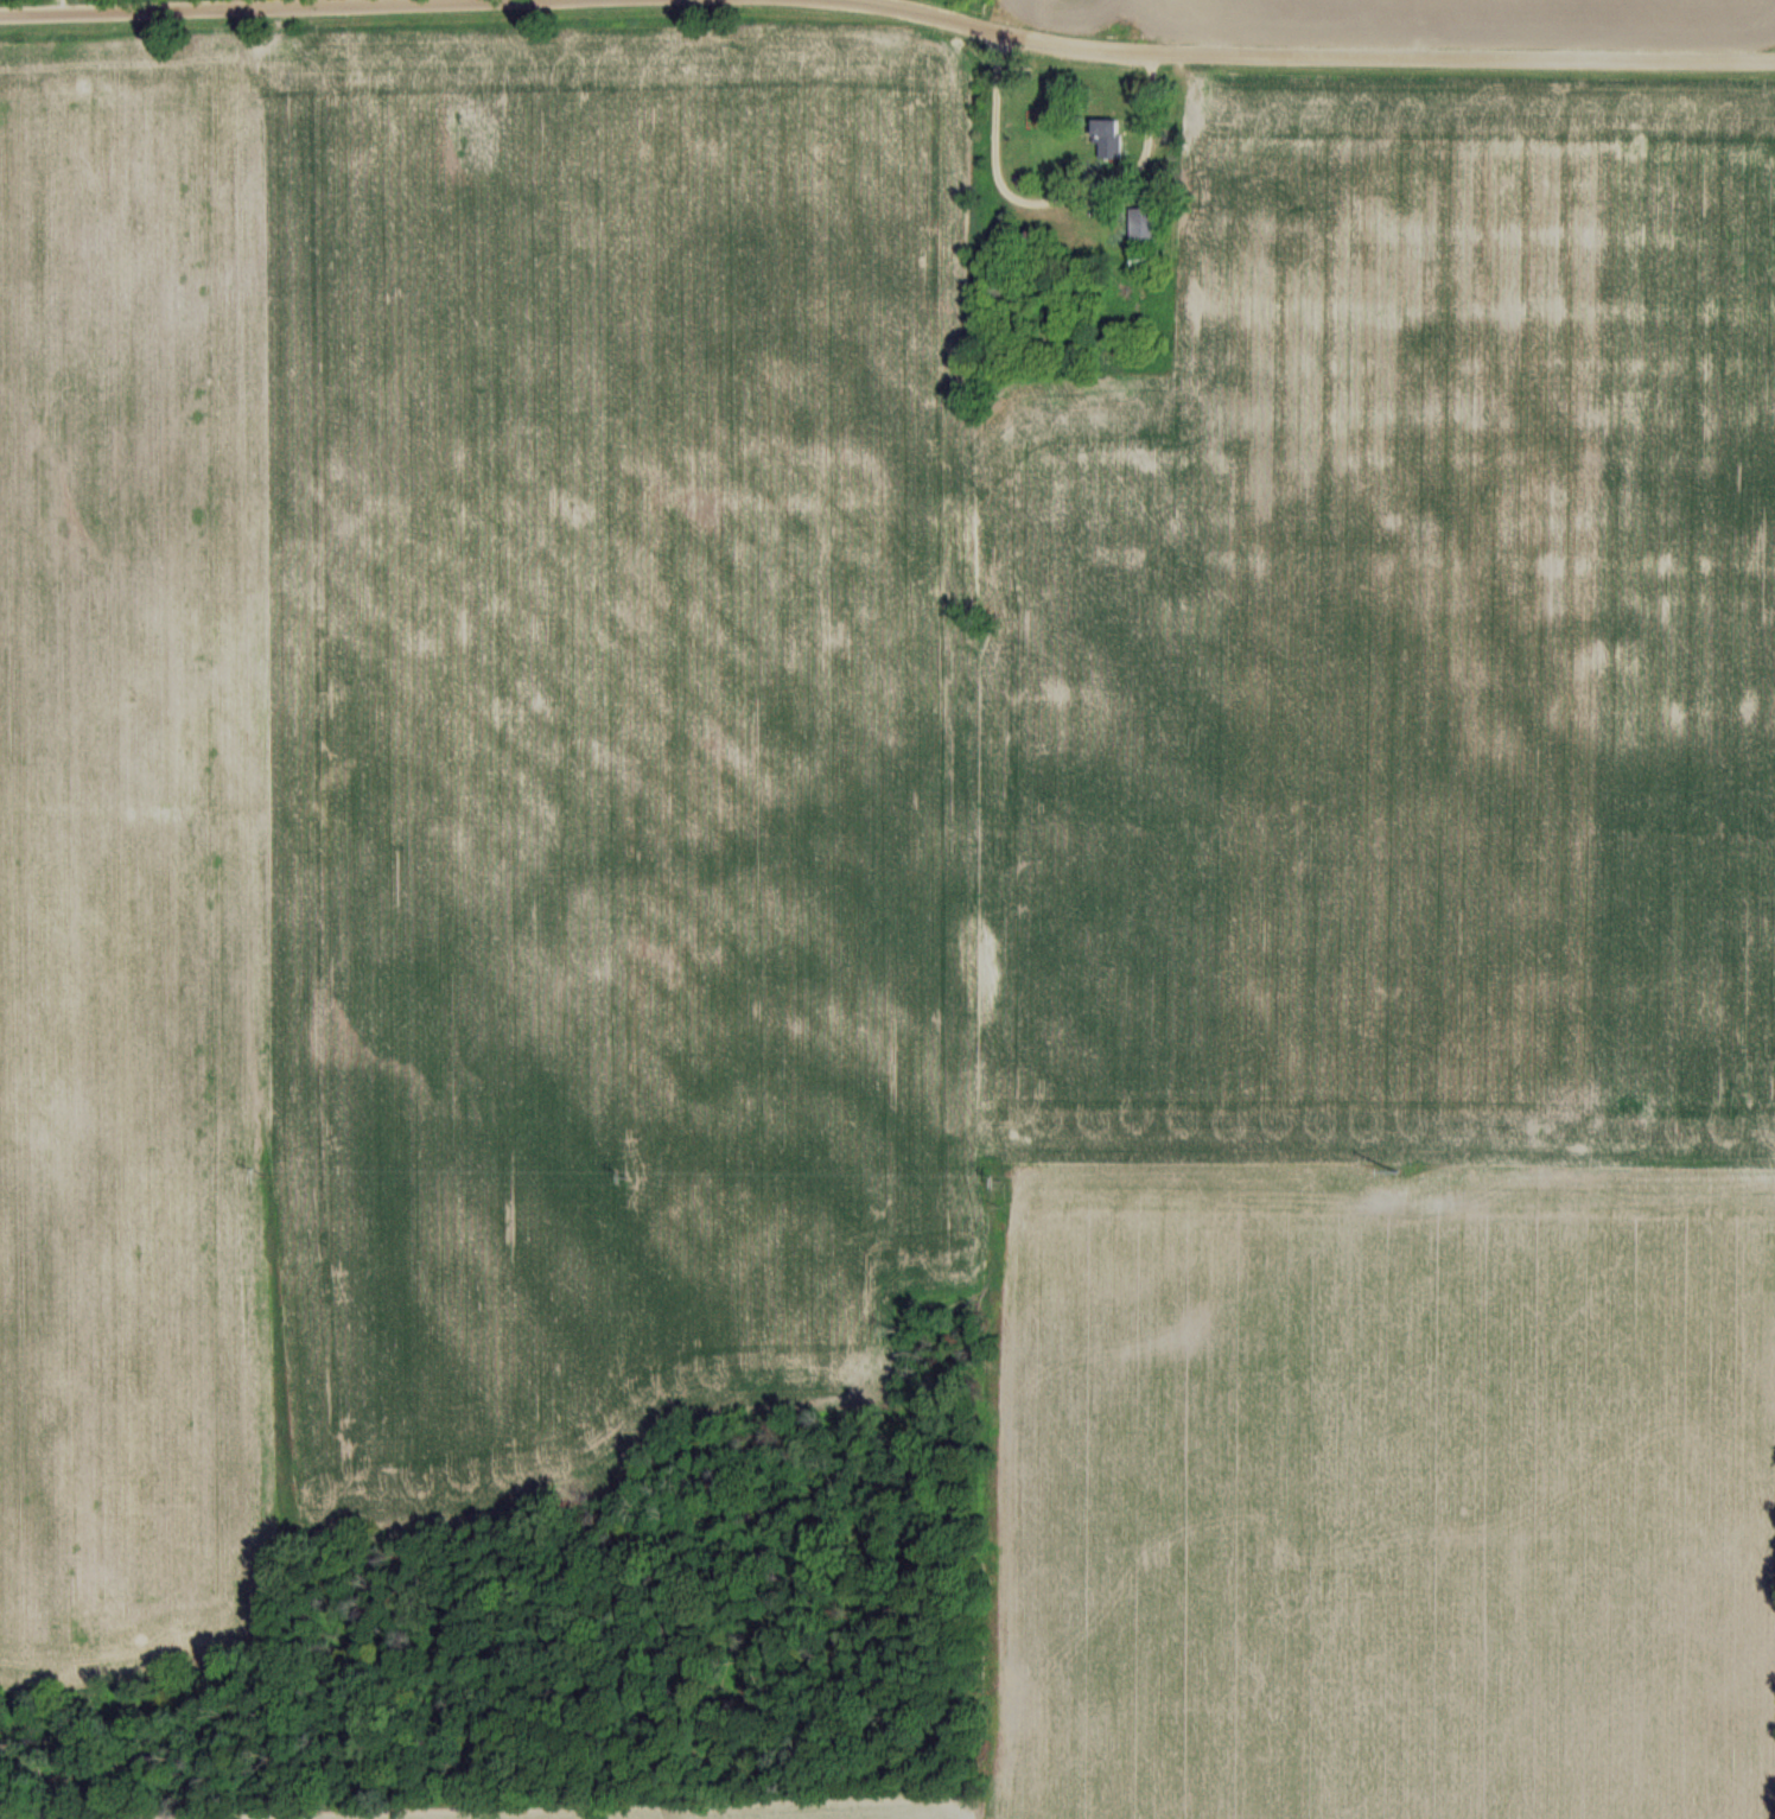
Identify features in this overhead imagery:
road: (265, 7)
road: (922, 7)
road: (1363, 55)
building: (1109, 139)
road: (1050, 197)
building: (1145, 225)
building: (1146, 260)

